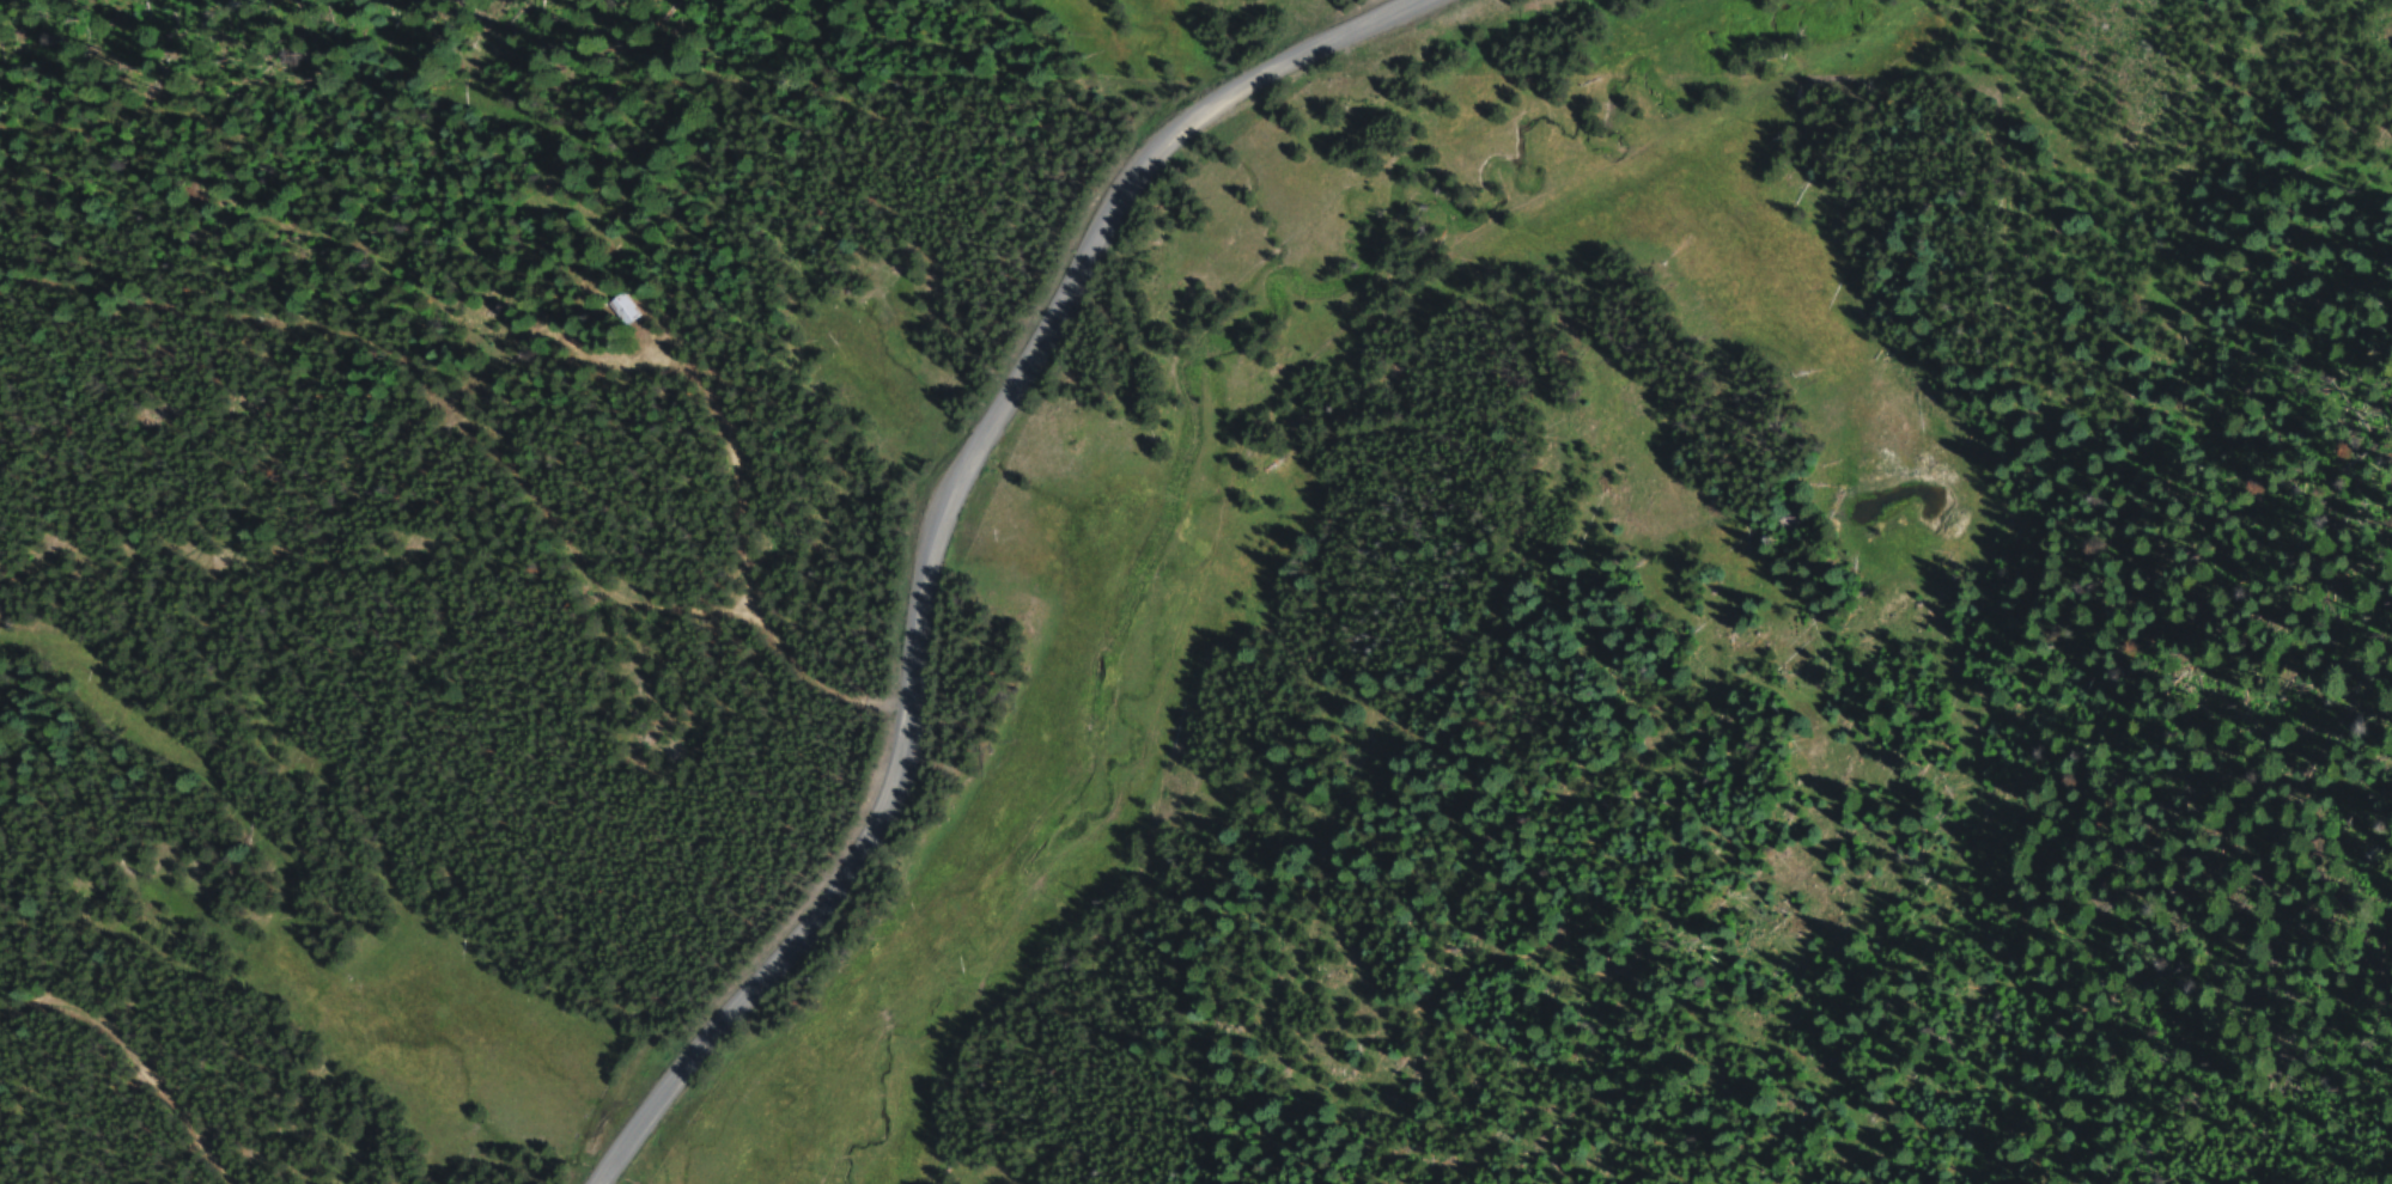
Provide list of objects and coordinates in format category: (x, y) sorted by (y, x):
building: (629, 310)
road: (938, 542)
road: (138, 1054)

